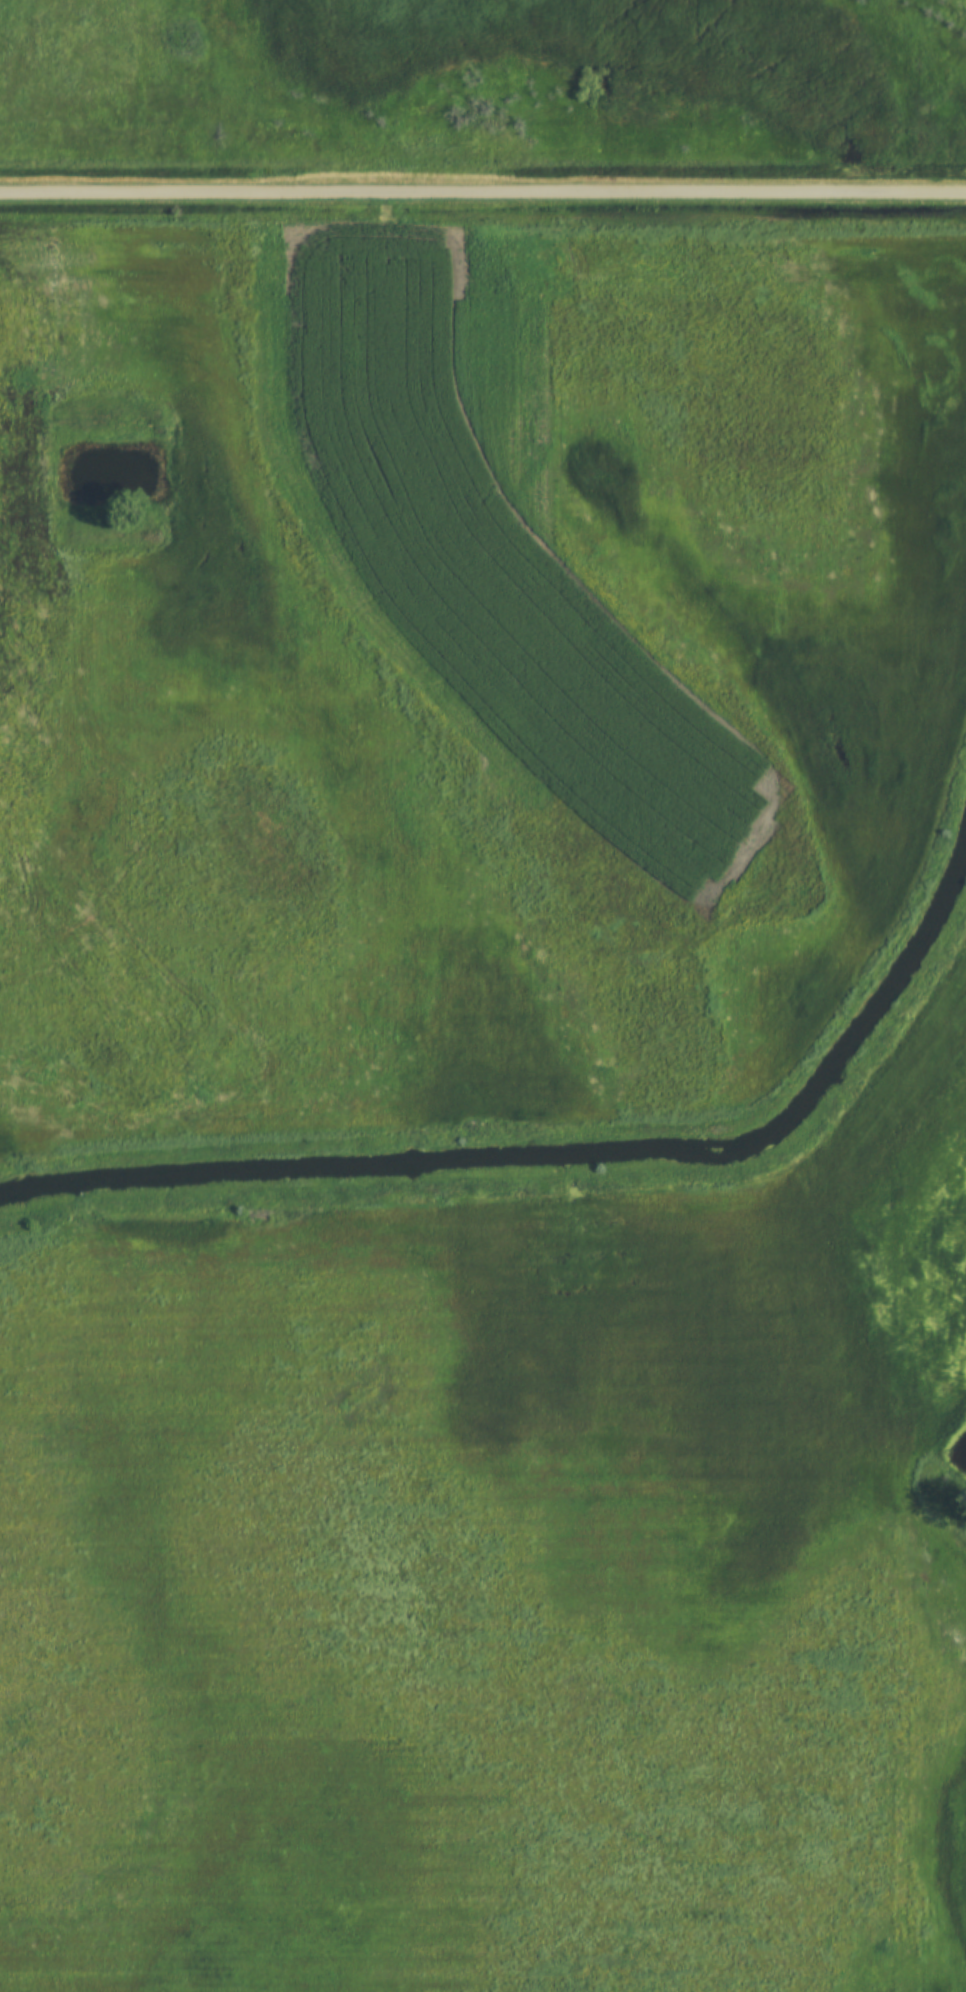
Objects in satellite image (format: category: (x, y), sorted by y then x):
road: (482, 192)
crop: (468, 668)
crop: (485, 1594)

